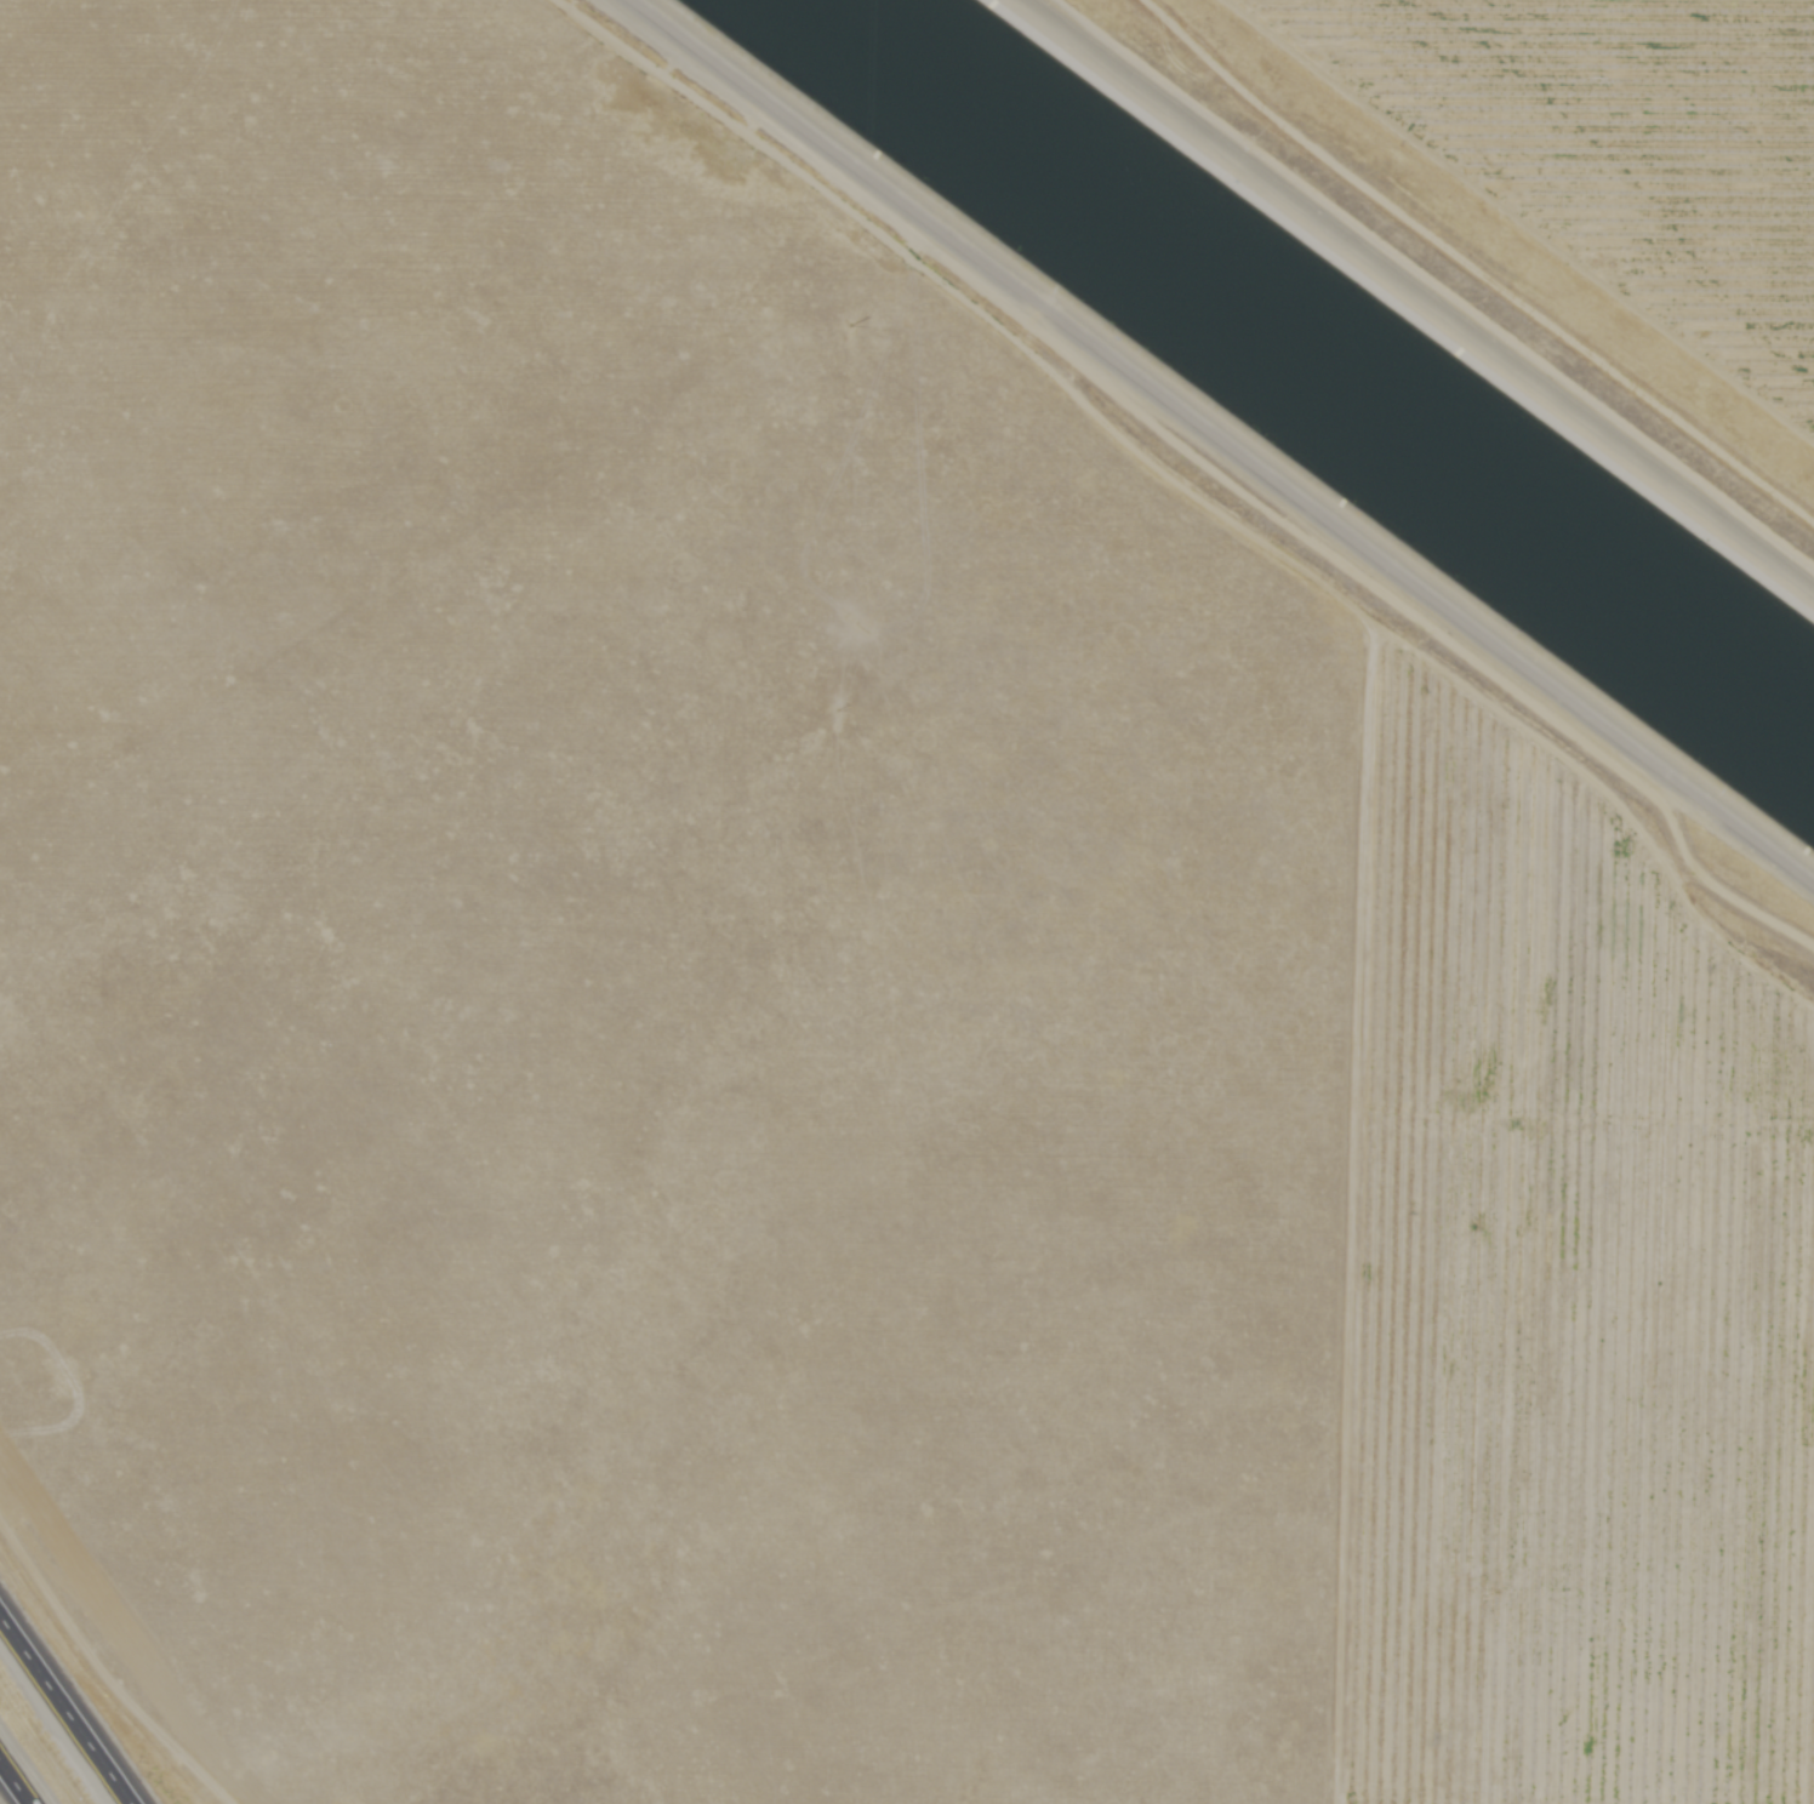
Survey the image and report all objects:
crop: (1610, 156)
road: (1219, 463)
crop: (804, 1023)
road: (108, 1666)
road: (72, 1703)
road: (13, 1783)

